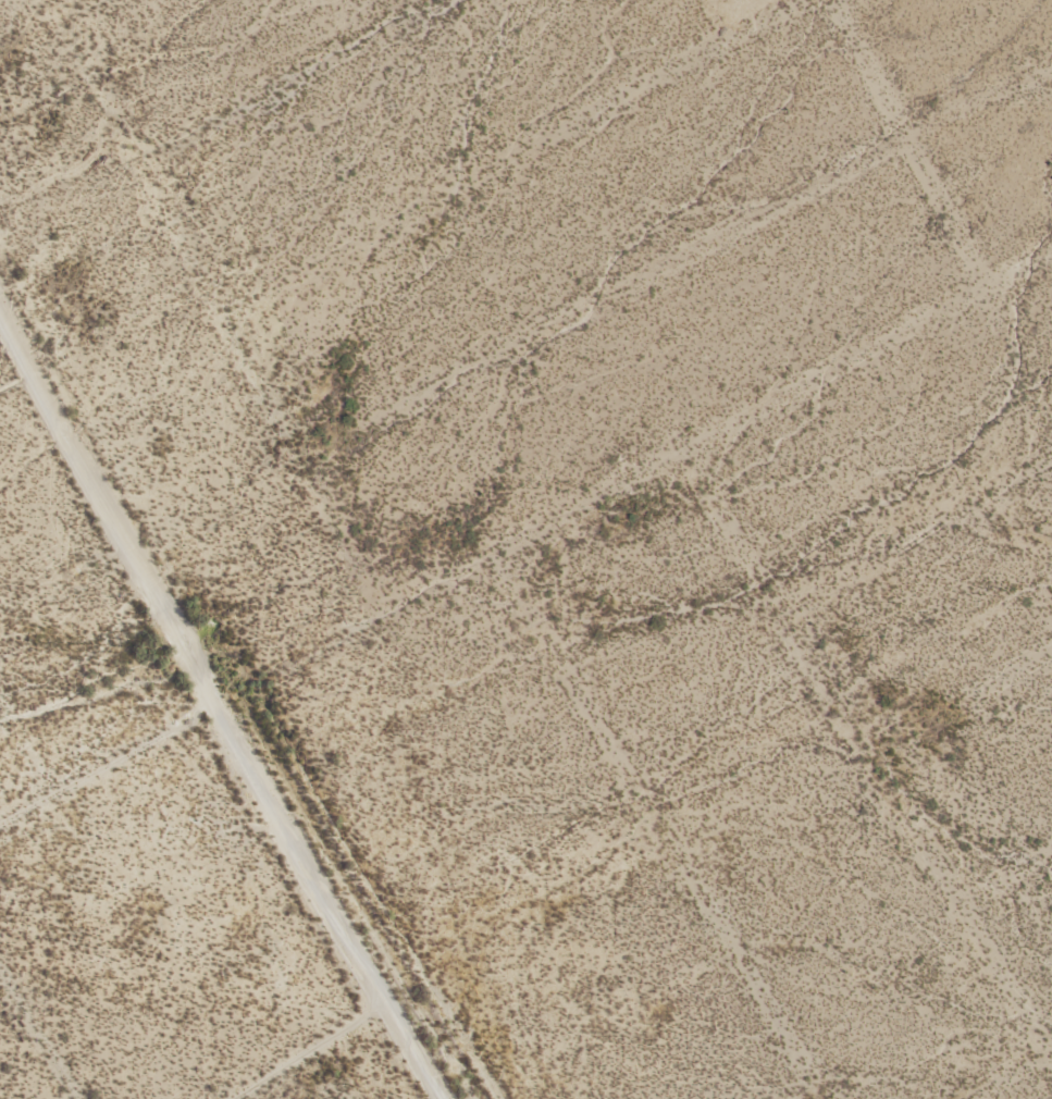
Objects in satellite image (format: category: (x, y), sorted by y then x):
road: (285, 77)
road: (912, 141)
road: (508, 150)
road: (674, 261)
road: (222, 305)
road: (17, 376)
road: (916, 534)
road: (524, 535)
road: (216, 704)
road: (963, 707)
road: (26, 741)
road: (865, 748)
road: (659, 826)
road: (1007, 874)
road: (38, 1034)
road: (311, 1051)
road: (1014, 1074)

